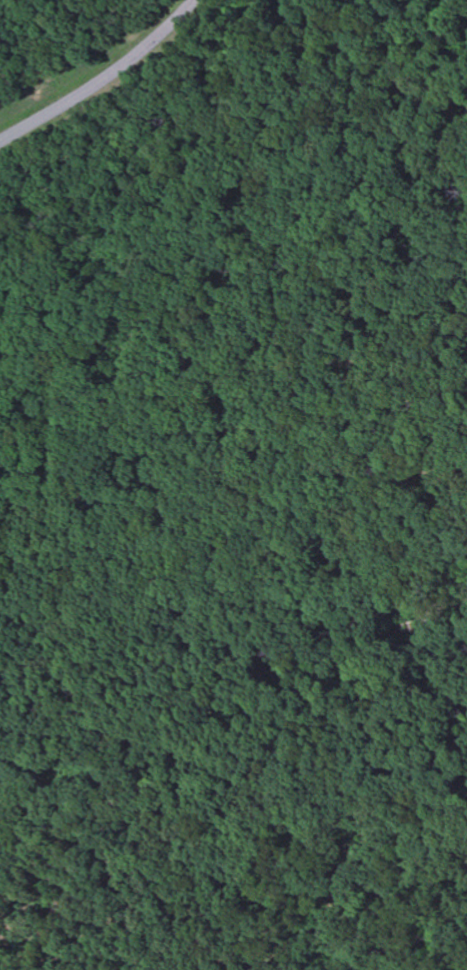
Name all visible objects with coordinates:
road: (105, 83)

